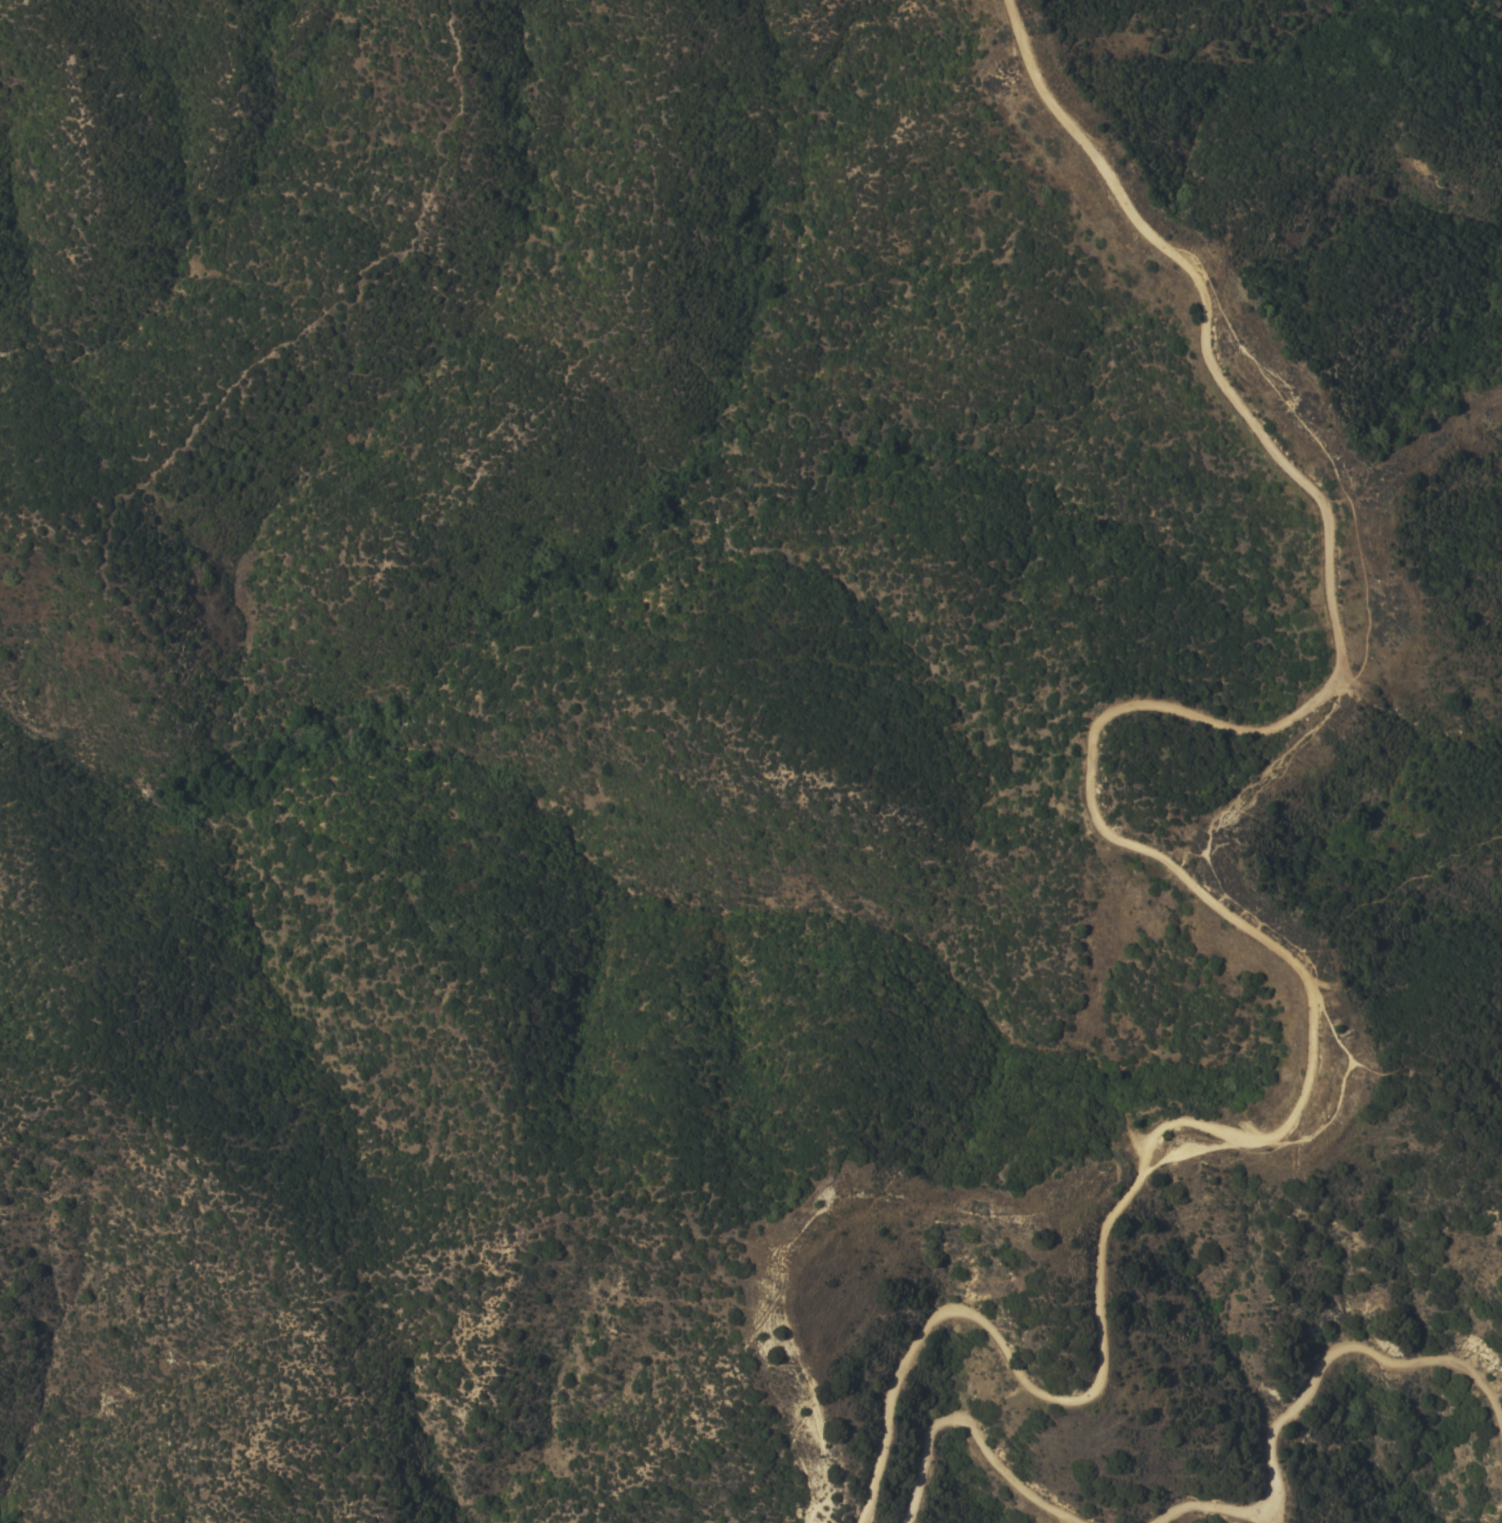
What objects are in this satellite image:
park: (50, 59)
road: (1321, 448)
road: (1140, 848)
road: (1386, 884)
road: (1414, 1074)
road: (1307, 1387)
road: (971, 1427)

